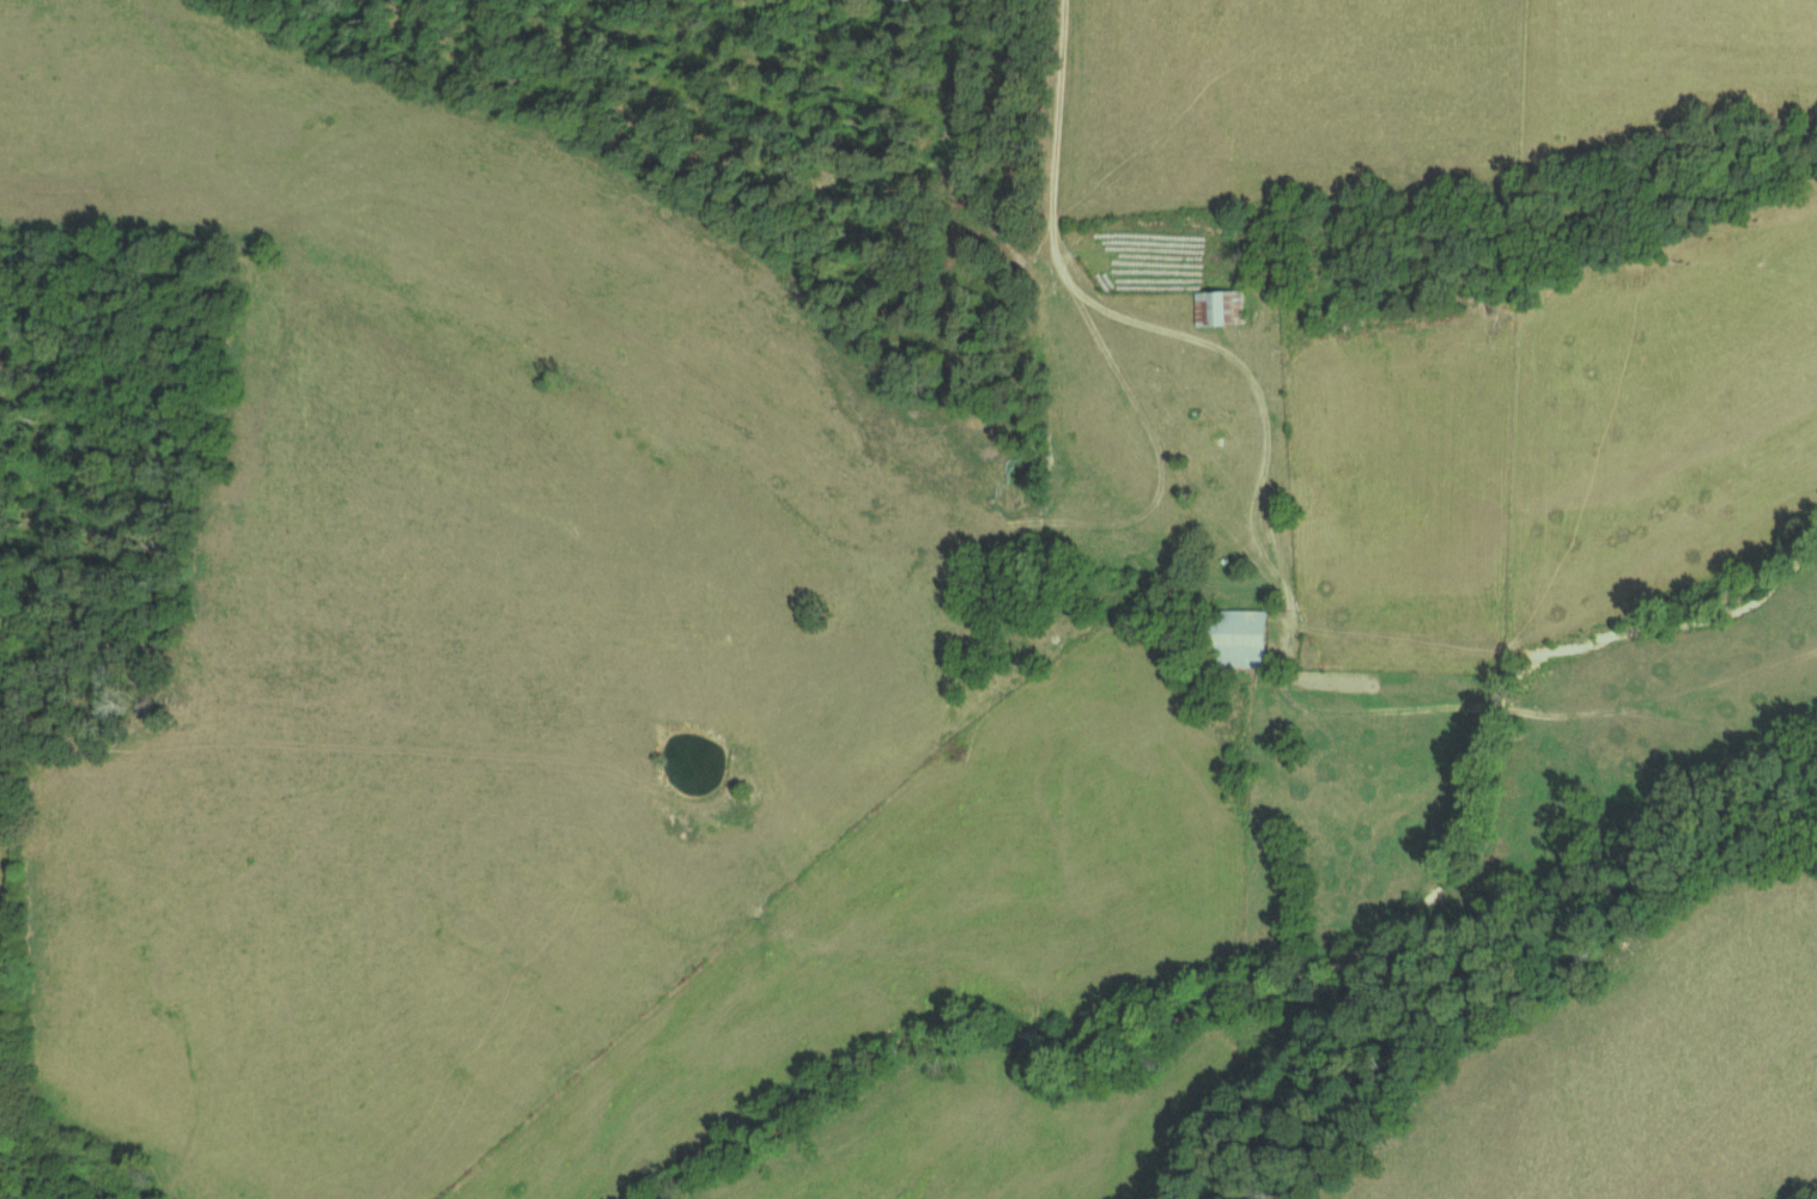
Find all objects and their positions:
building: (1221, 308)
road: (1150, 321)
building: (1242, 638)

